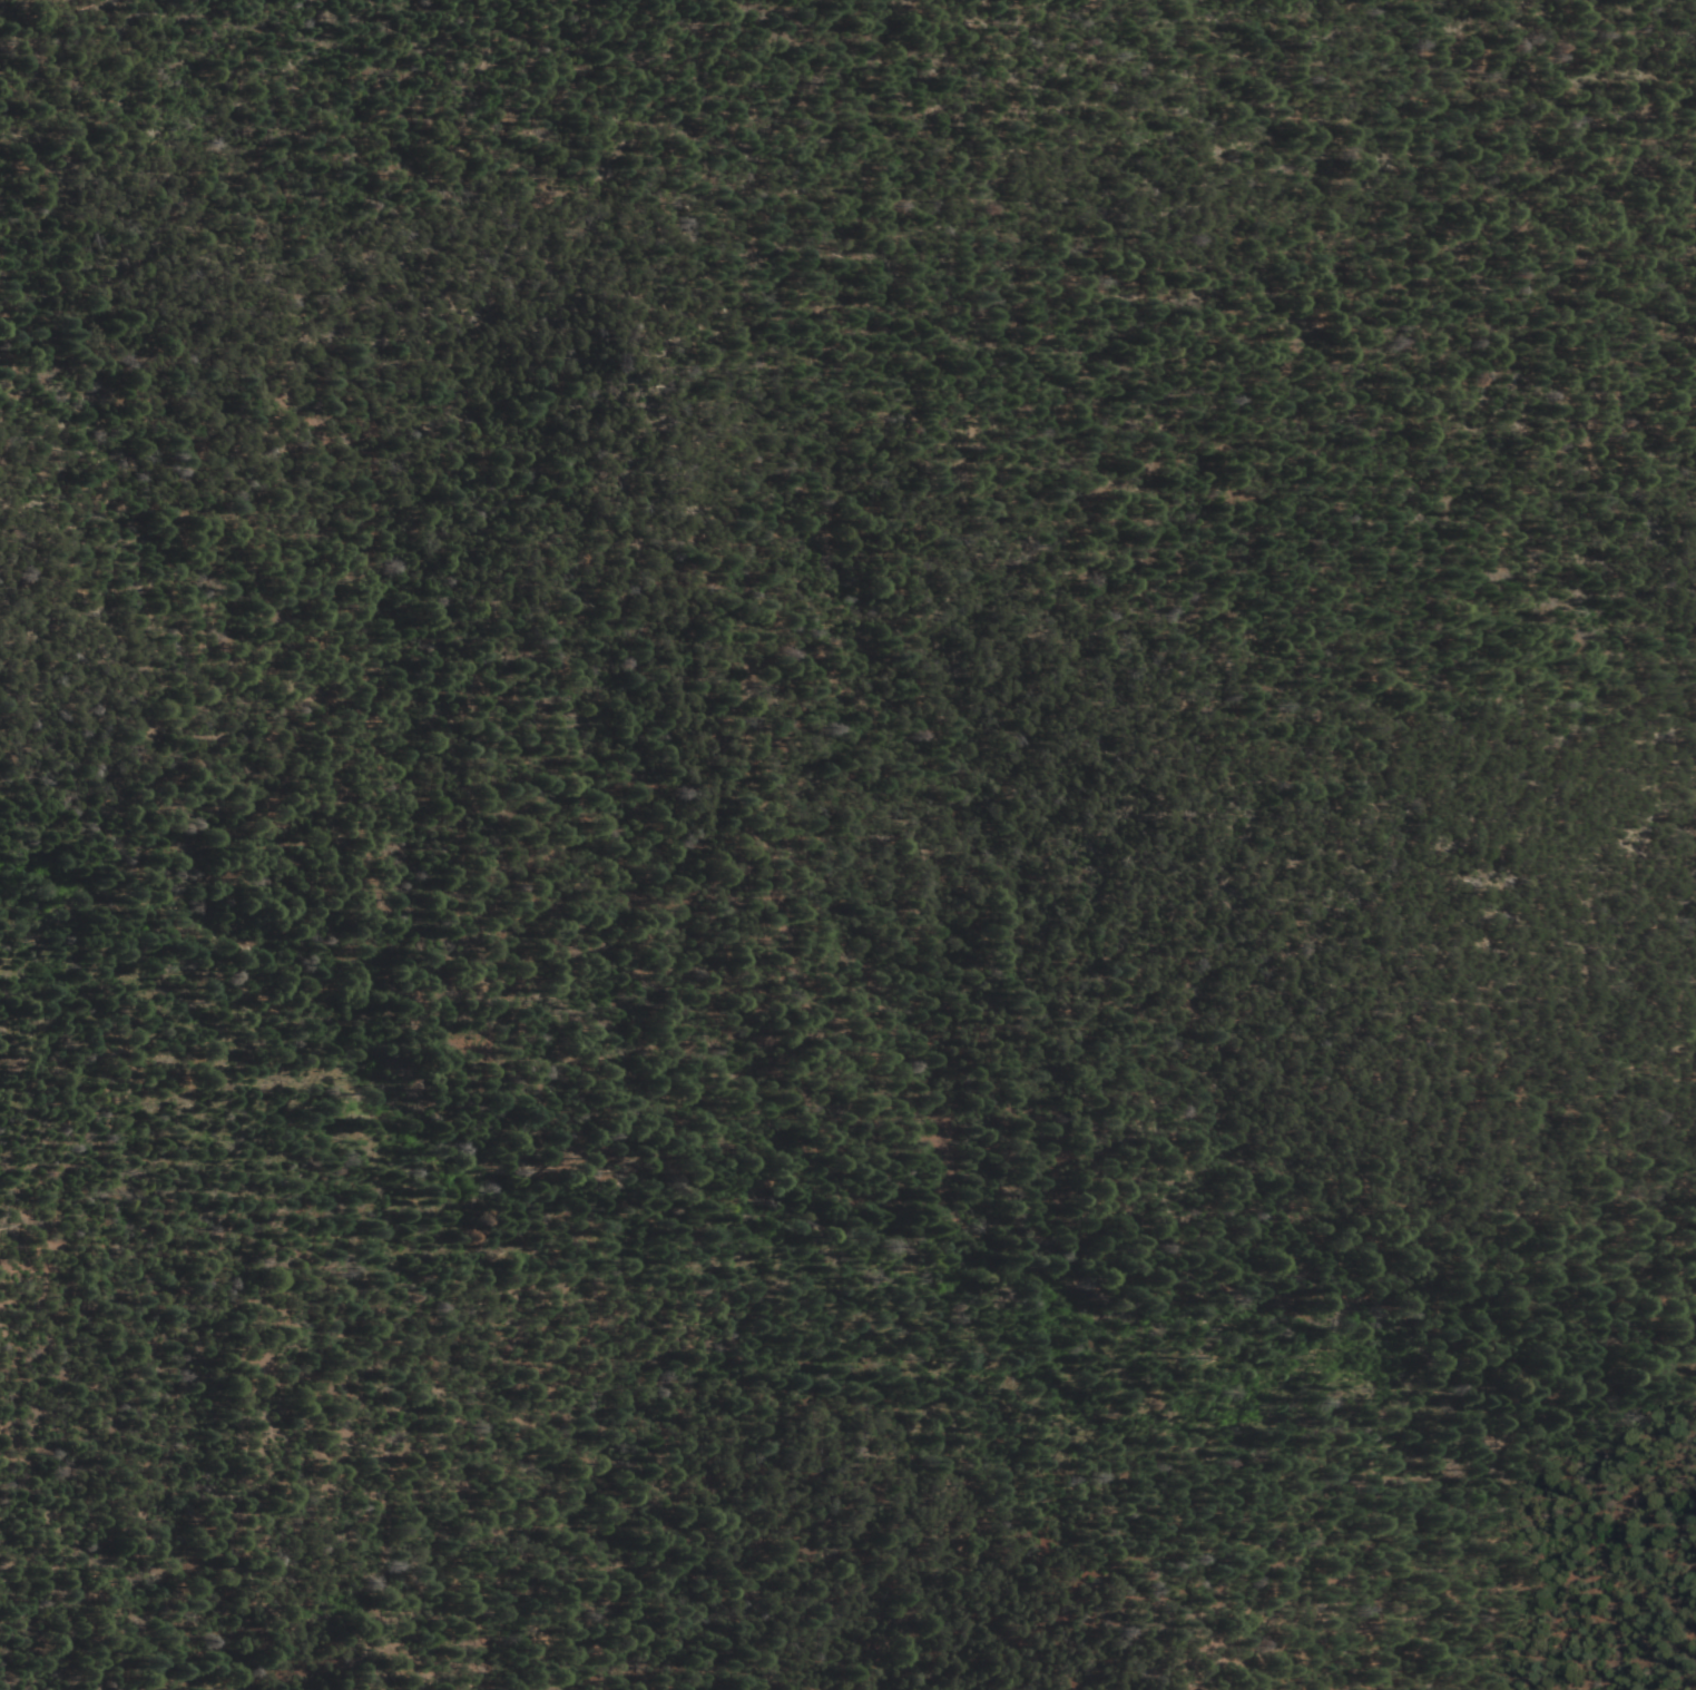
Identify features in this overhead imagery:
road: (569, 856)
road: (507, 1166)
road: (1124, 1286)

